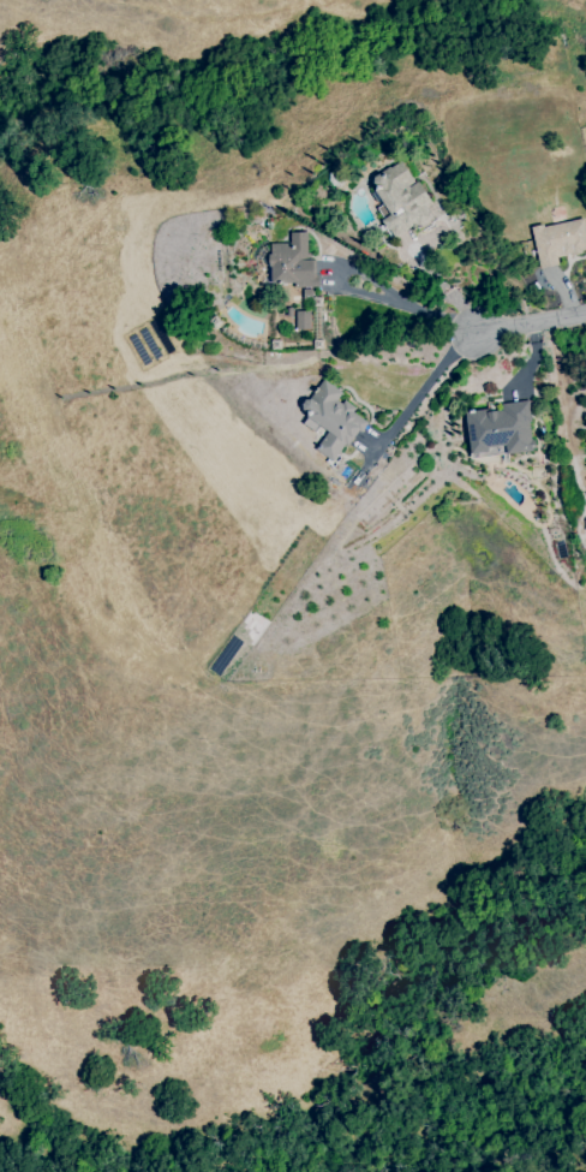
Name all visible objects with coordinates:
building: (399, 200)
building: (558, 242)
building: (289, 261)
road: (371, 296)
building: (301, 320)
road: (531, 325)
road: (429, 380)
building: (331, 420)
building: (500, 430)

